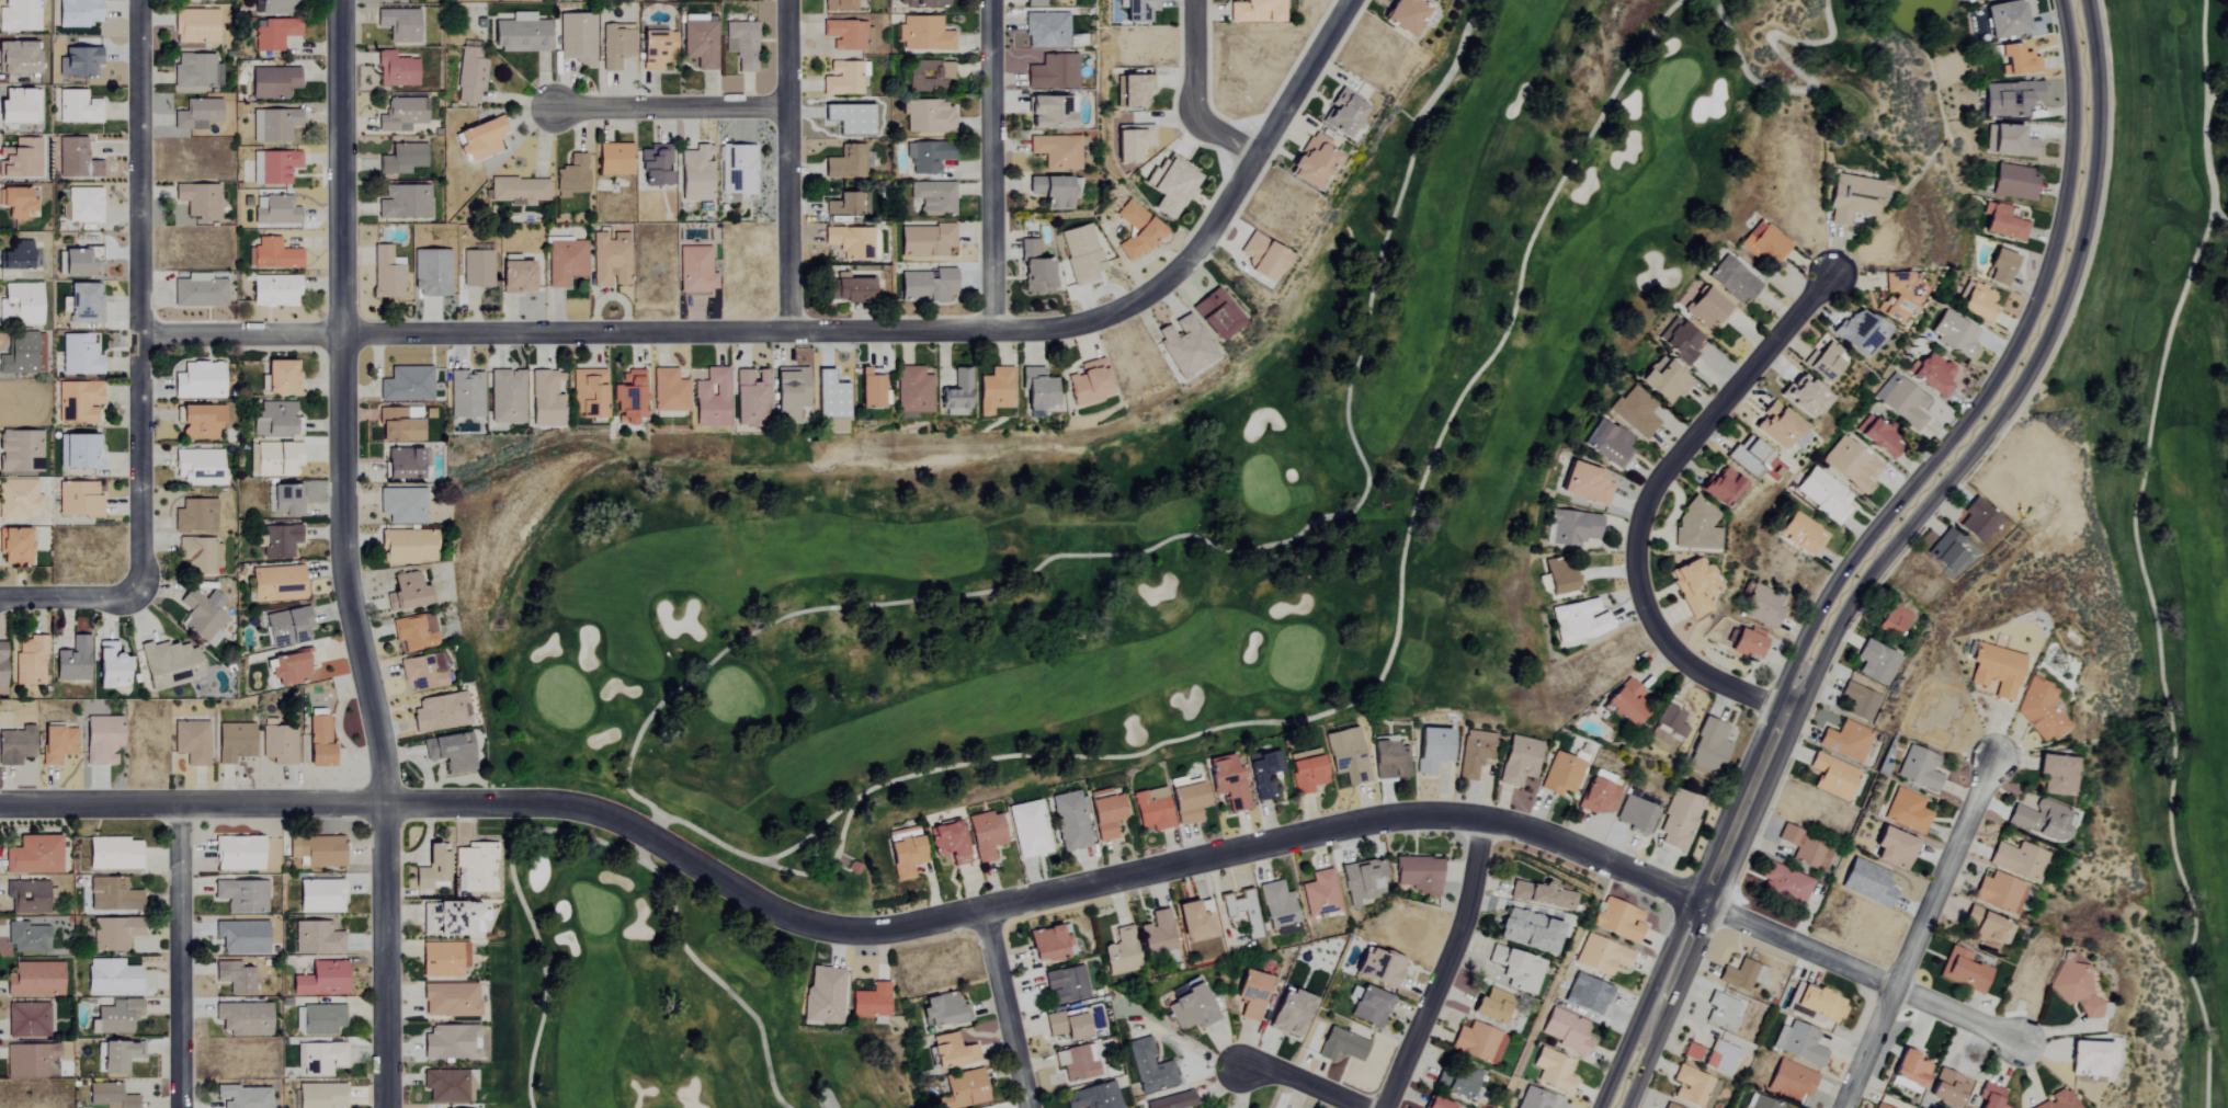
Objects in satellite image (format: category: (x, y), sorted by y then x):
building: (1973, 0)
building: (920, 2)
building: (1034, 2)
building: (841, 4)
building: (277, 7)
building: (1141, 11)
building: (1253, 11)
building: (77, 13)
building: (19, 15)
building: (1405, 15)
building: (2007, 19)
building: (398, 24)
building: (194, 26)
building: (1045, 31)
building: (273, 33)
building: (923, 33)
building: (849, 35)
building: (576, 37)
building: (700, 41)
building: (741, 44)
building: (615, 45)
building: (656, 48)
building: (16, 56)
building: (2017, 60)
building: (79, 61)
building: (195, 70)
building: (395, 70)
building: (1050, 71)
building: (469, 75)
building: (928, 75)
building: (843, 78)
building: (272, 82)
building: (1132, 90)
road: (1194, 93)
building: (2010, 99)
road: (671, 104)
building: (19, 105)
building: (77, 107)
building: (1048, 112)
building: (1342, 113)
building: (196, 114)
building: (401, 114)
building: (928, 116)
building: (850, 118)
building: (272, 125)
building: (480, 138)
building: (2009, 140)
building: (1132, 142)
building: (1055, 151)
building: (928, 156)
building: (21, 159)
building: (75, 159)
building: (401, 159)
building: (613, 159)
building: (1312, 161)
building: (846, 162)
building: (655, 164)
road: (992, 164)
road: (786, 165)
building: (273, 167)
building: (736, 169)
building: (694, 173)
building: (570, 176)
building: (2014, 182)
building: (1172, 186)
building: (520, 191)
building: (1049, 191)
building: (932, 198)
building: (1852, 198)
building: (198, 201)
building: (15, 202)
building: (403, 202)
building: (84, 205)
building: (842, 205)
building: (275, 210)
building: (2007, 222)
building: (1135, 230)
building: (925, 240)
building: (849, 242)
building: (1764, 244)
building: (1081, 253)
building: (273, 254)
building: (15, 255)
building: (1260, 258)
building: (609, 259)
building: (564, 262)
building: (2000, 267)
building: (476, 269)
building: (1034, 269)
building: (694, 270)
building: (386, 273)
building: (430, 273)
building: (515, 275)
building: (1732, 281)
building: (925, 285)
building: (849, 288)
building: (273, 290)
building: (197, 292)
building: (1896, 296)
road: (135, 297)
building: (81, 300)
building: (21, 302)
building: (1977, 302)
building: (1706, 308)
building: (1216, 315)
road: (827, 330)
building: (1856, 331)
building: (1956, 334)
building: (1678, 339)
building: (1183, 345)
building: (19, 355)
building: (79, 355)
building: (1822, 359)
building: (1932, 374)
building: (1663, 380)
building: (197, 381)
building: (406, 384)
building: (1089, 384)
building: (667, 390)
building: (868, 390)
building: (912, 390)
building: (788, 391)
building: (993, 391)
building: (1037, 392)
building: (588, 393)
building: (955, 393)
building: (1799, 393)
building: (465, 395)
building: (505, 397)
building: (709, 397)
building: (830, 397)
building: (627, 398)
building: (545, 399)
building: (749, 399)
building: (78, 400)
building: (1635, 412)
building: (274, 419)
building: (198, 422)
building: (398, 424)
building: (1775, 426)
building: (1877, 437)
building: (1604, 442)
building: (20, 452)
building: (78, 452)
building: (1747, 455)
building: (276, 459)
building: (401, 464)
building: (1852, 465)
building: (1587, 484)
building: (1719, 488)
building: (1825, 494)
building: (18, 499)
road: (1648, 499)
building: (78, 500)
building: (285, 500)
building: (401, 505)
building: (194, 516)
building: (1979, 521)
building: (1570, 527)
building: (1695, 529)
building: (1798, 533)
building: (280, 540)
park: (1099, 544)
building: (14, 547)
building: (407, 547)
road: (1872, 550)
building: (1948, 550)
building: (198, 555)
road: (339, 556)
park: (2148, 559)
building: (1559, 576)
building: (276, 584)
building: (1691, 584)
building: (406, 593)
road: (71, 594)
building: (1761, 605)
building: (202, 616)
building: (1579, 620)
building: (1892, 620)
building: (287, 627)
building: (413, 632)
building: (1748, 642)
building: (31, 661)
building: (72, 661)
building: (1877, 662)
building: (1, 664)
building: (169, 664)
building: (110, 666)
building: (289, 667)
building: (1996, 670)
building: (420, 673)
building: (1861, 701)
building: (1626, 703)
building: (2038, 709)
building: (440, 712)
building: (1667, 726)
building: (101, 740)
building: (1846, 741)
building: (191, 742)
building: (234, 743)
building: (318, 743)
building: (56, 744)
building: (15, 745)
building: (278, 745)
building: (1707, 749)
building: (1431, 750)
building: (448, 752)
building: (1474, 753)
building: (1346, 755)
building: (1390, 761)
building: (1517, 761)
building: (1919, 768)
building: (1305, 772)
building: (1560, 775)
building: (2056, 775)
building: (1265, 776)
building: (1833, 777)
building: (1226, 784)
building: (1595, 796)
building: (1186, 803)
building: (1151, 809)
building: (1906, 811)
building: (1633, 814)
building: (1105, 815)
building: (1678, 820)
building: (2039, 820)
building: (1069, 822)
building: (1027, 830)
building: (985, 835)
building: (947, 843)
building: (1806, 848)
building: (1892, 848)
building: (317, 850)
building: (112, 854)
building: (237, 854)
building: (32, 856)
building: (903, 858)
building: (2019, 861)
building: (475, 868)
building: (431, 869)
building: (1418, 875)
building: (1362, 881)
building: (1867, 882)
building: (1785, 884)
building: (2000, 892)
building: (1320, 894)
building: (111, 895)
building: (1537, 895)
building: (29, 896)
building: (241, 896)
building: (319, 896)
road: (1020, 904)
building: (1277, 905)
building: (1241, 912)
building: (447, 919)
building: (1617, 921)
building: (1194, 923)
building: (1986, 929)
building: (1526, 932)
road: (1918, 933)
building: (114, 934)
building: (1156, 935)
building: (241, 937)
building: (27, 938)
building: (317, 938)
building: (1047, 945)
building: (1119, 953)
road: (178, 956)
building: (1601, 956)
building: (442, 959)
road: (1445, 967)
building: (1378, 969)
building: (1515, 970)
building: (1963, 971)
building: (1742, 975)
building: (111, 976)
building: (234, 978)
building: (34, 980)
building: (320, 980)
building: (1066, 985)
building: (2076, 989)
building: (1250, 994)
building: (822, 995)
building: (1585, 995)
building: (448, 1001)
building: (871, 1003)
building: (1819, 1004)
building: (1189, 1005)
building: (1368, 1005)
building: (1490, 1006)
building: (941, 1010)
road: (1007, 1010)
building: (1721, 1012)
building: (1288, 1014)
building: (115, 1017)
building: (242, 1018)
building: (320, 1019)
building: (27, 1020)
building: (1065, 1026)
building: (1566, 1031)
building: (451, 1042)
building: (1477, 1043)
building: (1798, 1043)
building: (1341, 1046)
building: (951, 1052)
building: (1691, 1052)
building: (117, 1056)
building: (321, 1059)
building: (2089, 1060)
building: (30, 1061)
building: (1077, 1063)
building: (1149, 1069)
building: (1911, 1070)
building: (1553, 1071)
building: (1792, 1081)
road: (1300, 1084)
building: (1460, 1084)
building: (448, 1086)
building: (1693, 1088)
building: (1947, 1089)
building: (963, 1090)
building: (107, 1096)
building: (242, 1096)
building: (319, 1096)
building: (1990, 1096)
building: (1093, 1097)
building: (1534, 1099)
building: (2059, 1100)
building: (1172, 1101)
building: (1760, 1103)
building: (1435, 1104)
building: (1667, 1106)
building: (1877, 1106)

